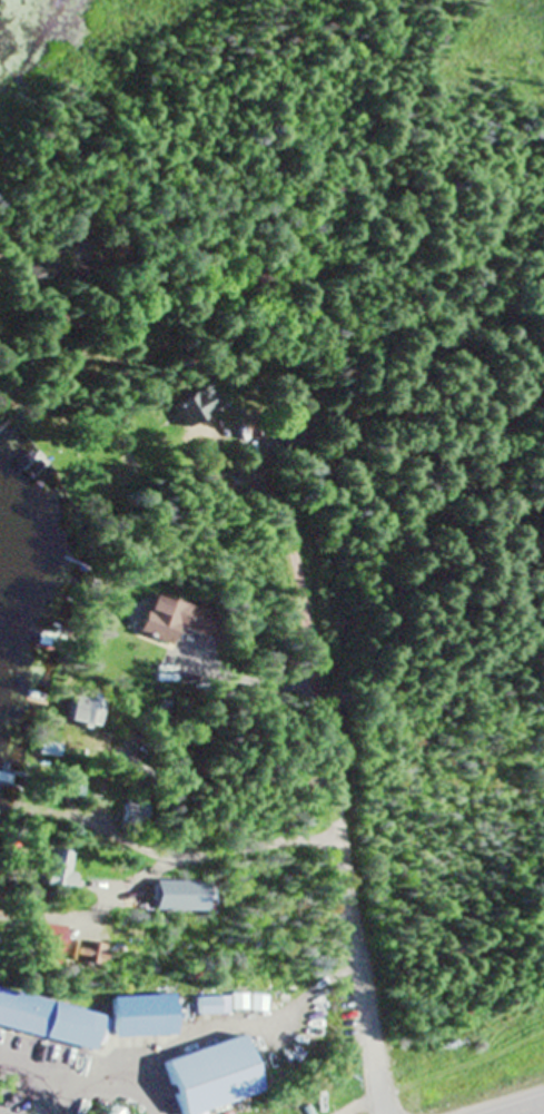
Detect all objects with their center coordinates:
building: (33, 276)
building: (142, 353)
building: (194, 405)
road: (367, 428)
building: (176, 621)
building: (273, 666)
building: (81, 711)
building: (68, 785)
road: (338, 819)
road: (254, 845)
building: (57, 865)
building: (42, 940)
building: (87, 955)
building: (206, 1006)
building: (145, 1008)
building: (51, 1022)
road: (441, 1071)
building: (209, 1077)
road: (518, 1105)

